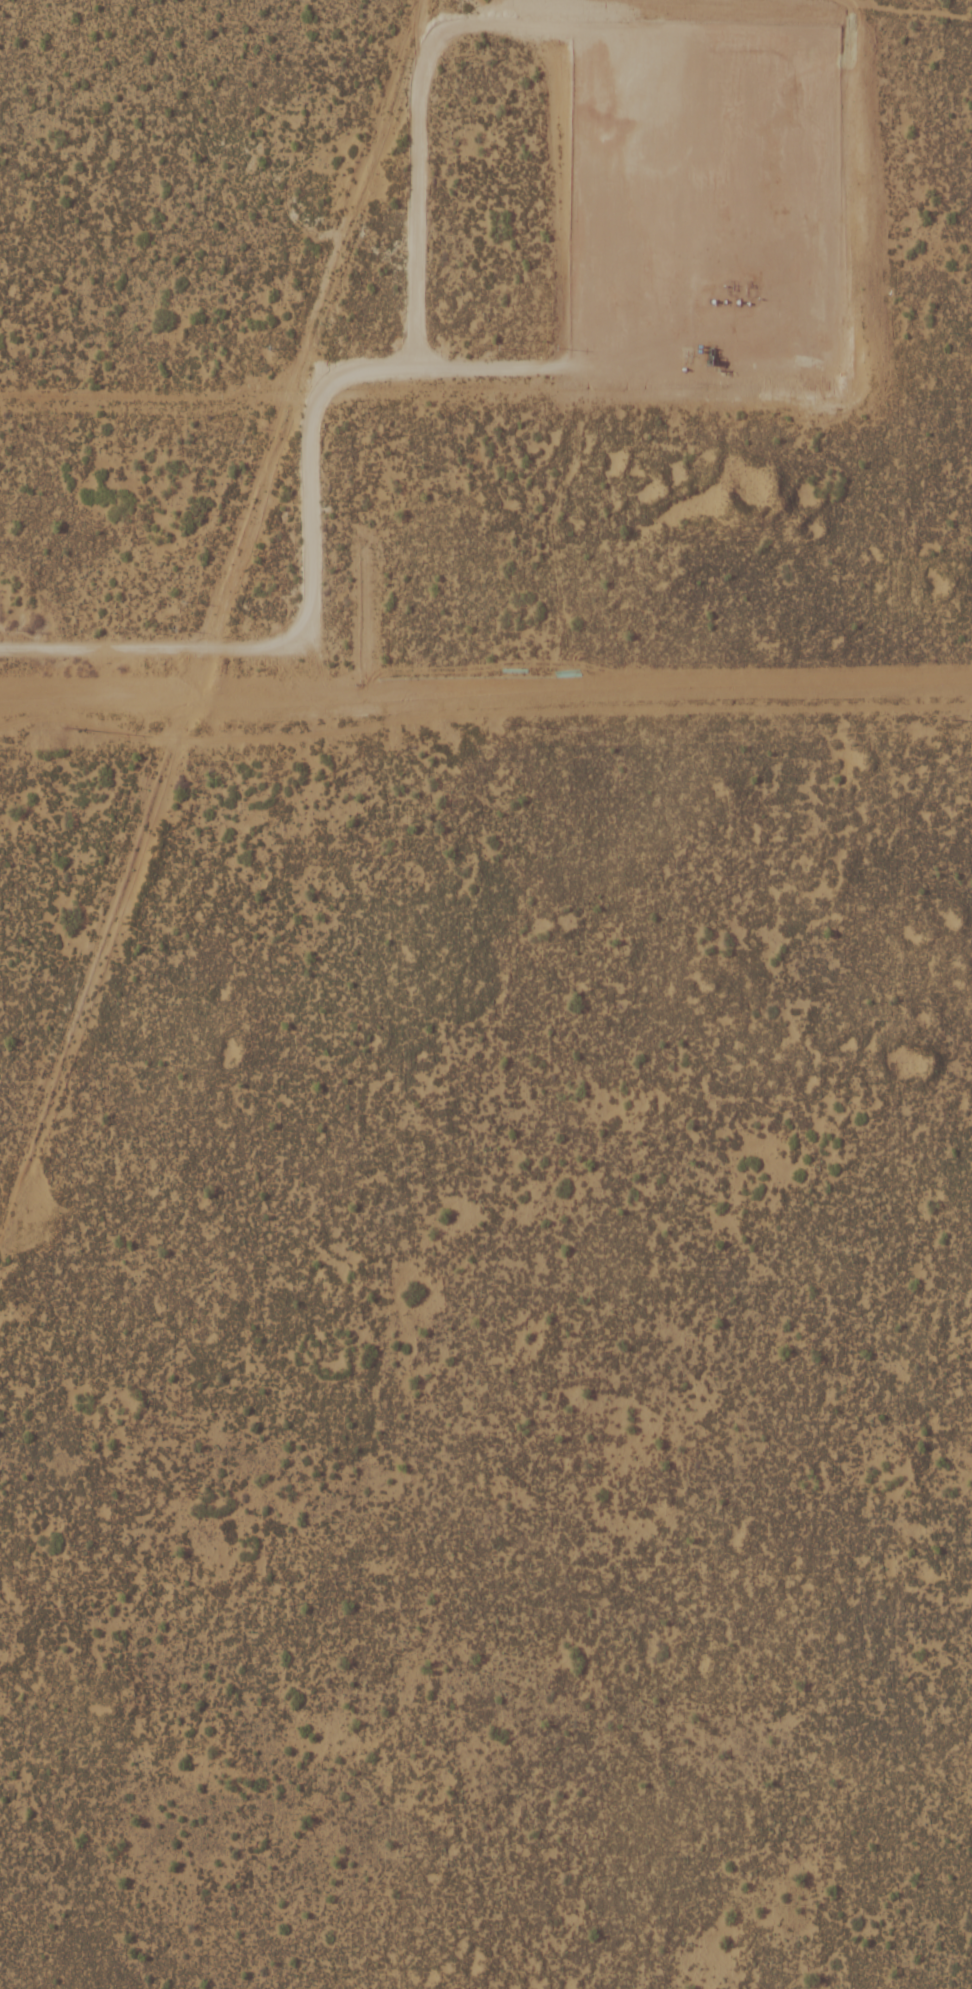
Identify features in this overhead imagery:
road: (434, 56)
petroleum well: (730, 285)
petroleum well: (749, 285)
road: (324, 532)

